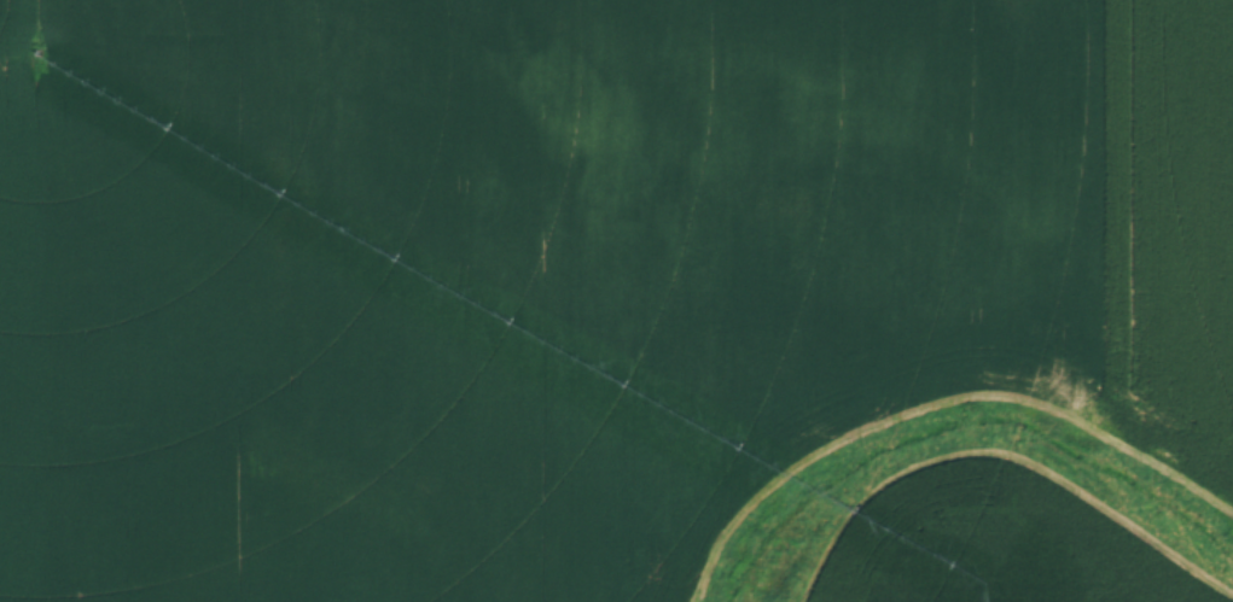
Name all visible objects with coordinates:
crop: (1179, 232)

